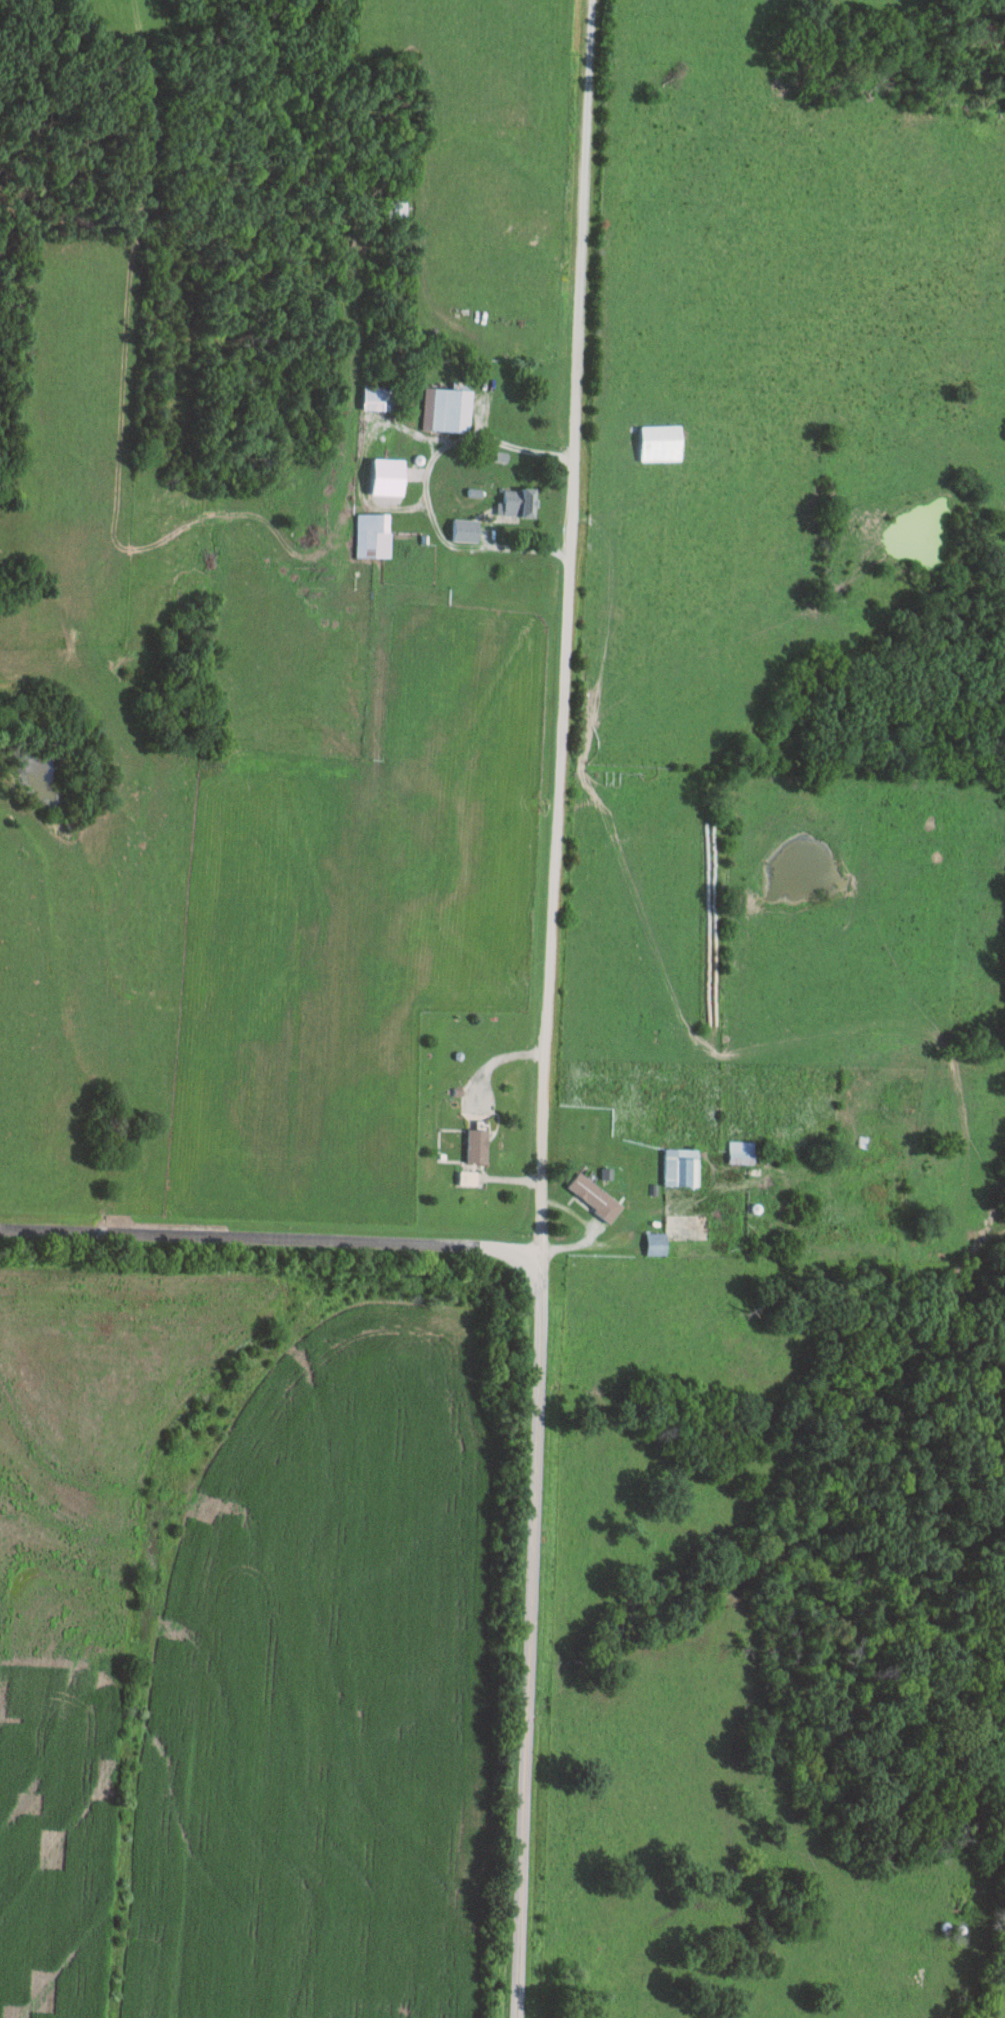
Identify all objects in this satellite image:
building: (395, 208)
building: (451, 408)
building: (660, 442)
building: (389, 477)
road: (428, 493)
building: (518, 502)
building: (466, 529)
building: (372, 535)
road: (565, 625)
building: (477, 1145)
building: (749, 1154)
building: (681, 1167)
building: (594, 1196)
road: (270, 1237)
building: (656, 1243)
road: (527, 1634)

